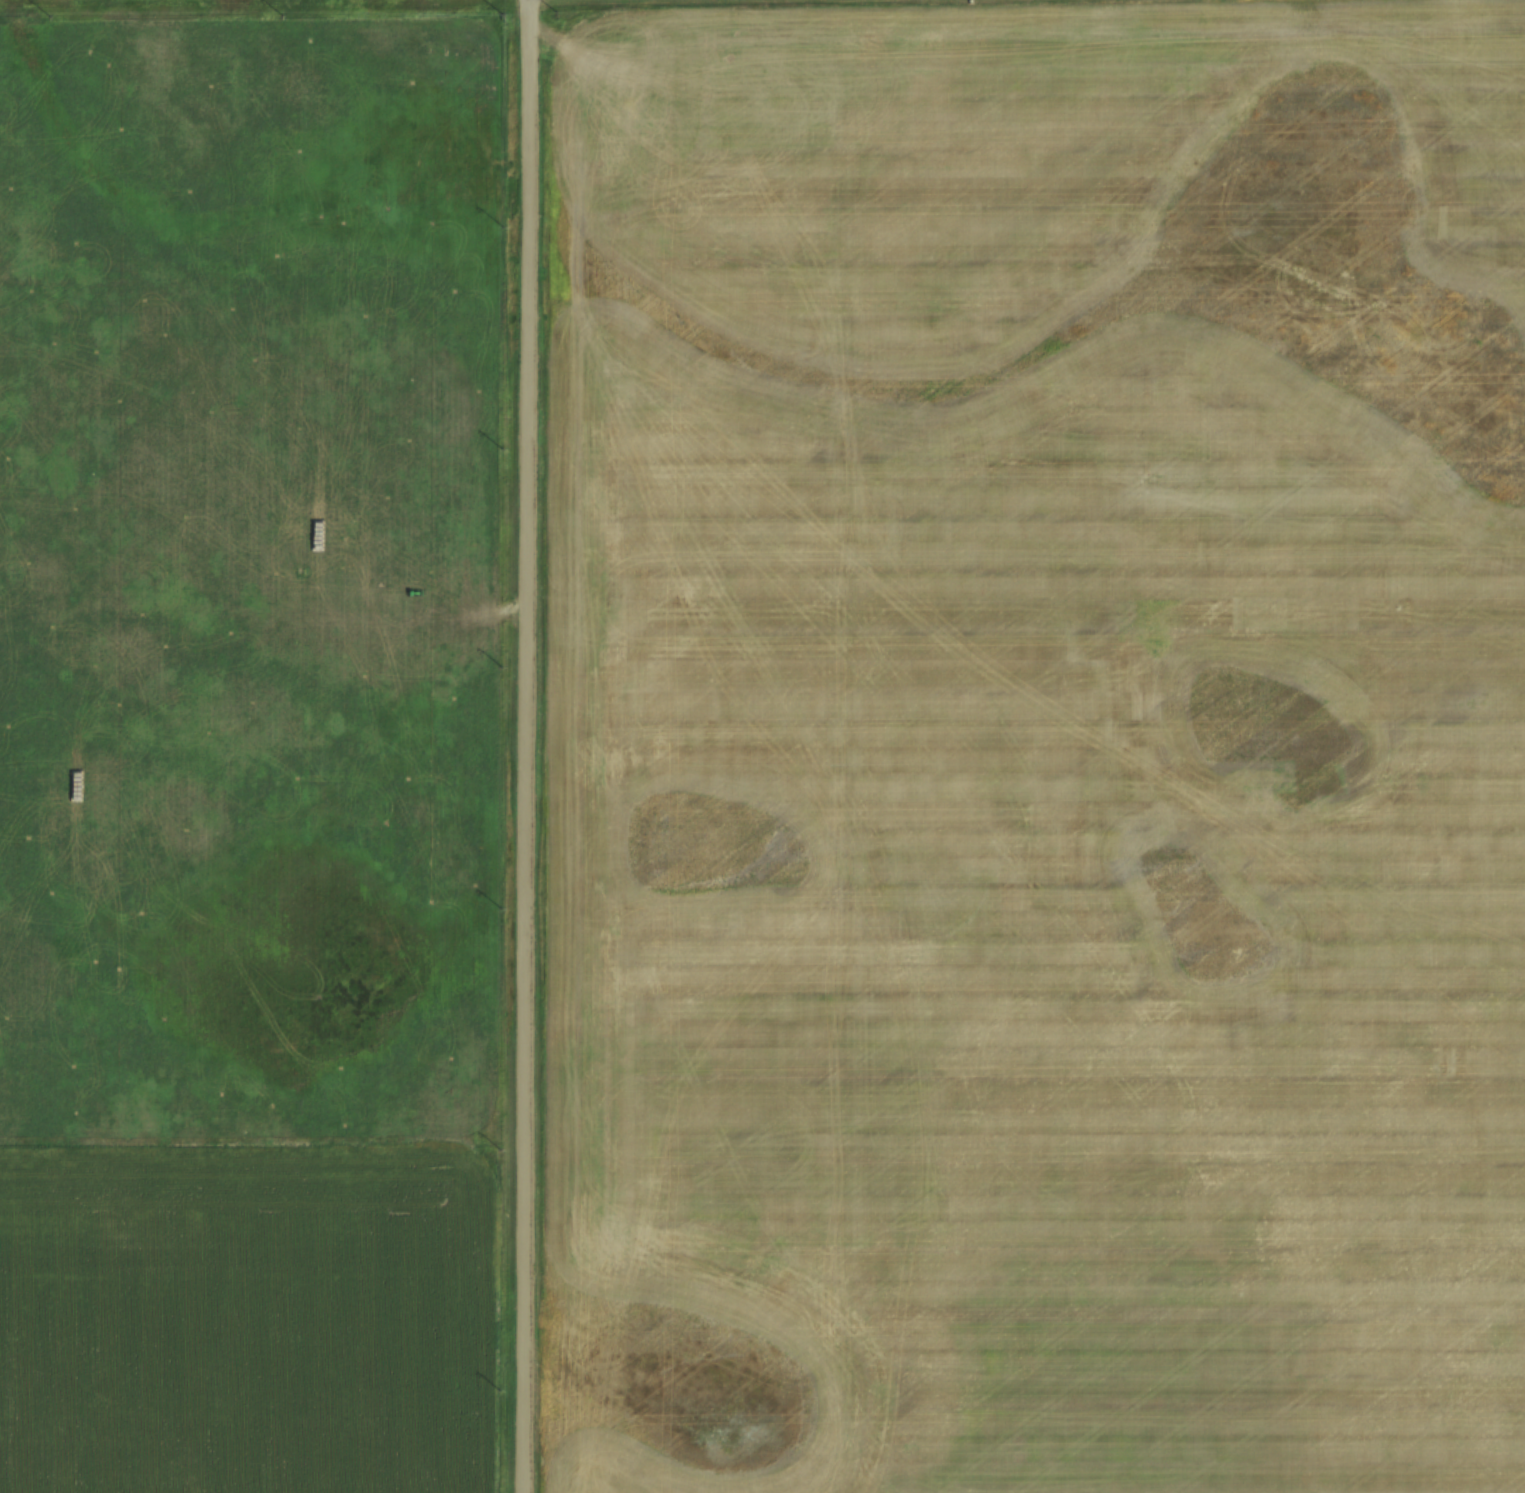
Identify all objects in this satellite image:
road: (527, 746)

